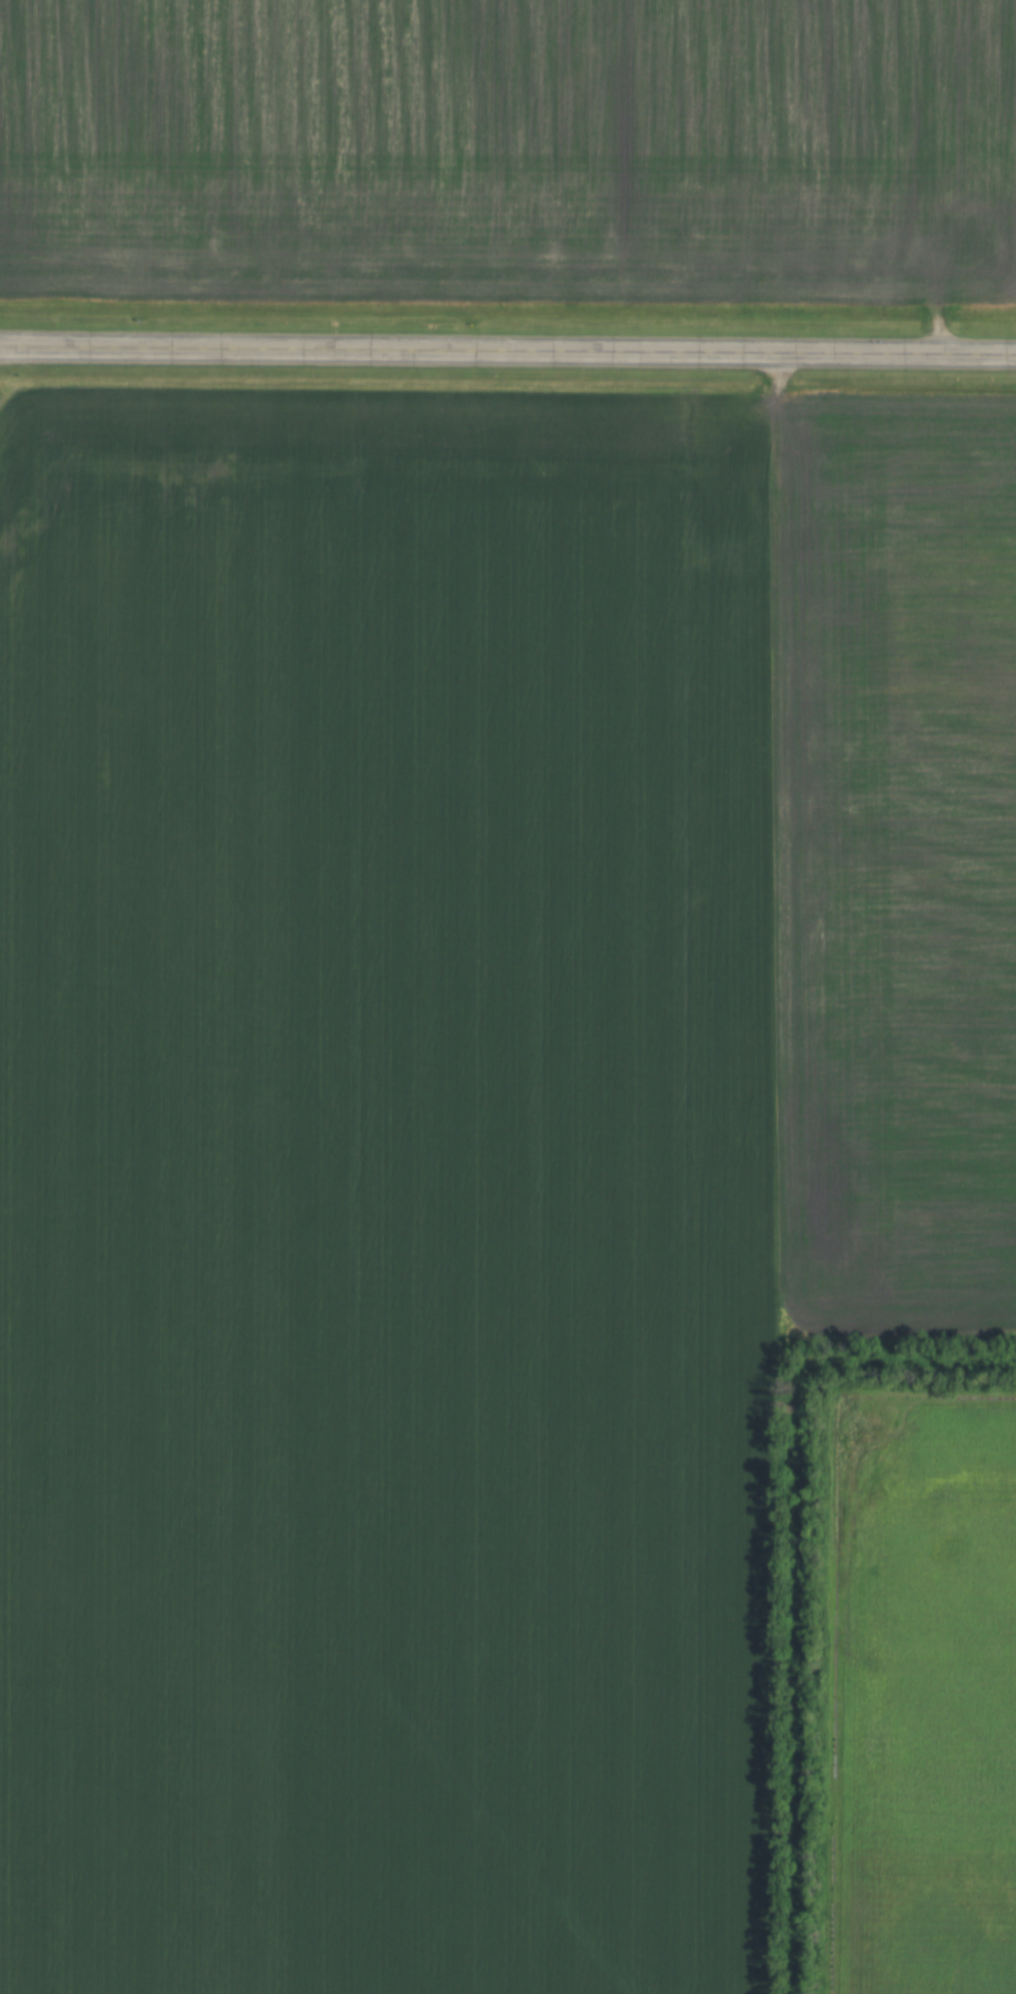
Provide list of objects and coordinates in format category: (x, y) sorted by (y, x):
road: (508, 351)

